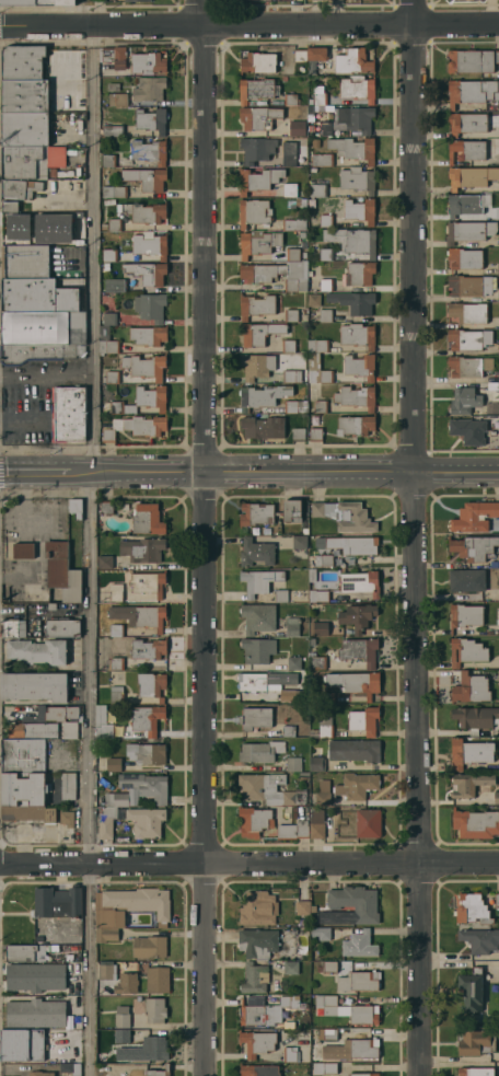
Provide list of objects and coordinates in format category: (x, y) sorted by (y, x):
building: (98, 0)
building: (138, 0)
building: (37, 2)
road: (81, 11)
road: (248, 22)
building: (114, 56)
building: (315, 57)
building: (472, 60)
building: (23, 61)
building: (257, 61)
building: (300, 61)
building: (353, 61)
building: (148, 62)
building: (113, 86)
building: (358, 88)
building: (150, 89)
building: (257, 90)
building: (474, 93)
building: (25, 95)
building: (117, 99)
building: (320, 99)
building: (291, 100)
building: (258, 117)
building: (356, 118)
building: (151, 119)
building: (466, 123)
building: (297, 127)
building: (25, 128)
building: (324, 128)
building: (113, 130)
building: (315, 142)
building: (353, 148)
building: (256, 149)
building: (466, 150)
building: (149, 151)
building: (289, 152)
building: (322, 159)
building: (31, 160)
building: (108, 160)
building: (53, 172)
building: (471, 176)
building: (147, 178)
building: (257, 178)
building: (358, 180)
building: (20, 188)
building: (290, 189)
building: (317, 189)
building: (114, 192)
building: (298, 201)
building: (464, 205)
building: (10, 206)
building: (360, 210)
building: (143, 212)
building: (254, 212)
building: (497, 212)
building: (326, 220)
building: (114, 224)
building: (293, 224)
building: (104, 227)
building: (53, 228)
building: (468, 230)
building: (30, 232)
building: (352, 240)
building: (258, 242)
building: (149, 244)
building: (293, 254)
building: (325, 254)
building: (109, 255)
building: (464, 258)
building: (26, 261)
building: (498, 267)
building: (148, 273)
building: (360, 273)
building: (258, 277)
building: (115, 285)
building: (326, 285)
building: (471, 285)
building: (498, 294)
building: (37, 296)
building: (314, 299)
building: (355, 302)
building: (150, 306)
building: (256, 306)
building: (467, 312)
building: (291, 315)
building: (326, 315)
building: (108, 319)
building: (44, 327)
building: (104, 332)
building: (258, 332)
building: (149, 335)
building: (358, 335)
building: (468, 338)
building: (289, 345)
building: (318, 345)
building: (108, 346)
building: (498, 348)
building: (36, 351)
building: (144, 366)
building: (256, 366)
building: (359, 366)
building: (468, 366)
building: (317, 369)
building: (291, 375)
building: (498, 375)
building: (111, 377)
building: (492, 385)
building: (262, 396)
building: (356, 396)
building: (142, 400)
building: (464, 400)
building: (295, 406)
building: (321, 406)
building: (68, 413)
building: (357, 425)
building: (136, 427)
building: (258, 427)
building: (468, 430)
building: (298, 435)
building: (315, 435)
road: (249, 471)
building: (106, 507)
building: (77, 508)
building: (317, 509)
building: (292, 510)
building: (256, 513)
building: (353, 517)
building: (474, 517)
building: (147, 519)
road: (204, 537)
road: (416, 537)
building: (299, 542)
building: (353, 544)
building: (474, 547)
road: (94, 549)
building: (142, 549)
building: (23, 551)
building: (256, 552)
building: (324, 559)
building: (105, 562)
building: (62, 570)
building: (312, 575)
building: (467, 580)
building: (258, 581)
building: (360, 582)
building: (148, 583)
building: (116, 591)
building: (497, 594)
building: (281, 595)
building: (318, 595)
building: (465, 615)
building: (139, 616)
building: (357, 616)
building: (257, 617)
building: (292, 626)
building: (13, 627)
building: (62, 627)
building: (318, 628)
building: (116, 629)
building: (312, 641)
building: (148, 649)
building: (257, 650)
building: (360, 650)
building: (37, 651)
building: (466, 651)
building: (317, 661)
building: (114, 662)
building: (294, 662)
building: (265, 680)
building: (355, 682)
building: (151, 685)
building: (34, 686)
building: (471, 687)
building: (116, 695)
building: (293, 695)
building: (320, 696)
building: (60, 713)
building: (146, 718)
building: (255, 718)
building: (476, 718)
building: (363, 720)
building: (103, 722)
building: (324, 726)
building: (44, 729)
building: (288, 731)
building: (355, 750)
building: (260, 751)
building: (146, 753)
building: (469, 753)
building: (23, 755)
building: (317, 763)
building: (114, 764)
building: (293, 764)
building: (468, 784)
building: (68, 786)
building: (146, 786)
building: (356, 786)
building: (24, 788)
building: (268, 789)
building: (323, 792)
building: (496, 797)
building: (117, 799)
building: (28, 812)
building: (67, 818)
building: (254, 821)
building: (106, 822)
building: (146, 822)
building: (369, 823)
building: (475, 823)
building: (293, 830)
building: (317, 831)
road: (248, 864)
building: (351, 898)
building: (497, 899)
building: (58, 902)
building: (131, 905)
building: (303, 907)
building: (258, 909)
building: (314, 909)
building: (472, 909)
building: (303, 921)
building: (321, 933)
building: (106, 934)
building: (480, 939)
building: (257, 942)
building: (359, 945)
building: (150, 946)
building: (26, 952)
building: (327, 967)
building: (291, 968)
building: (105, 972)
building: (35, 976)
building: (254, 977)
building: (158, 980)
building: (359, 981)
building: (126, 983)
building: (473, 990)
building: (288, 1000)
building: (326, 1004)
building: (375, 1009)
building: (155, 1010)
building: (36, 1014)
building: (258, 1015)
building: (360, 1015)
building: (121, 1017)
building: (375, 1021)
building: (125, 1034)
building: (327, 1034)
building: (257, 1042)
building: (476, 1042)
building: (21, 1045)
building: (353, 1049)
building: (144, 1050)
building: (290, 1054)
building: (70, 1068)
building: (325, 1068)
building: (259, 1071)
building: (159, 1072)
building: (476, 1072)
building: (39, 1074)
building: (361, 1074)

